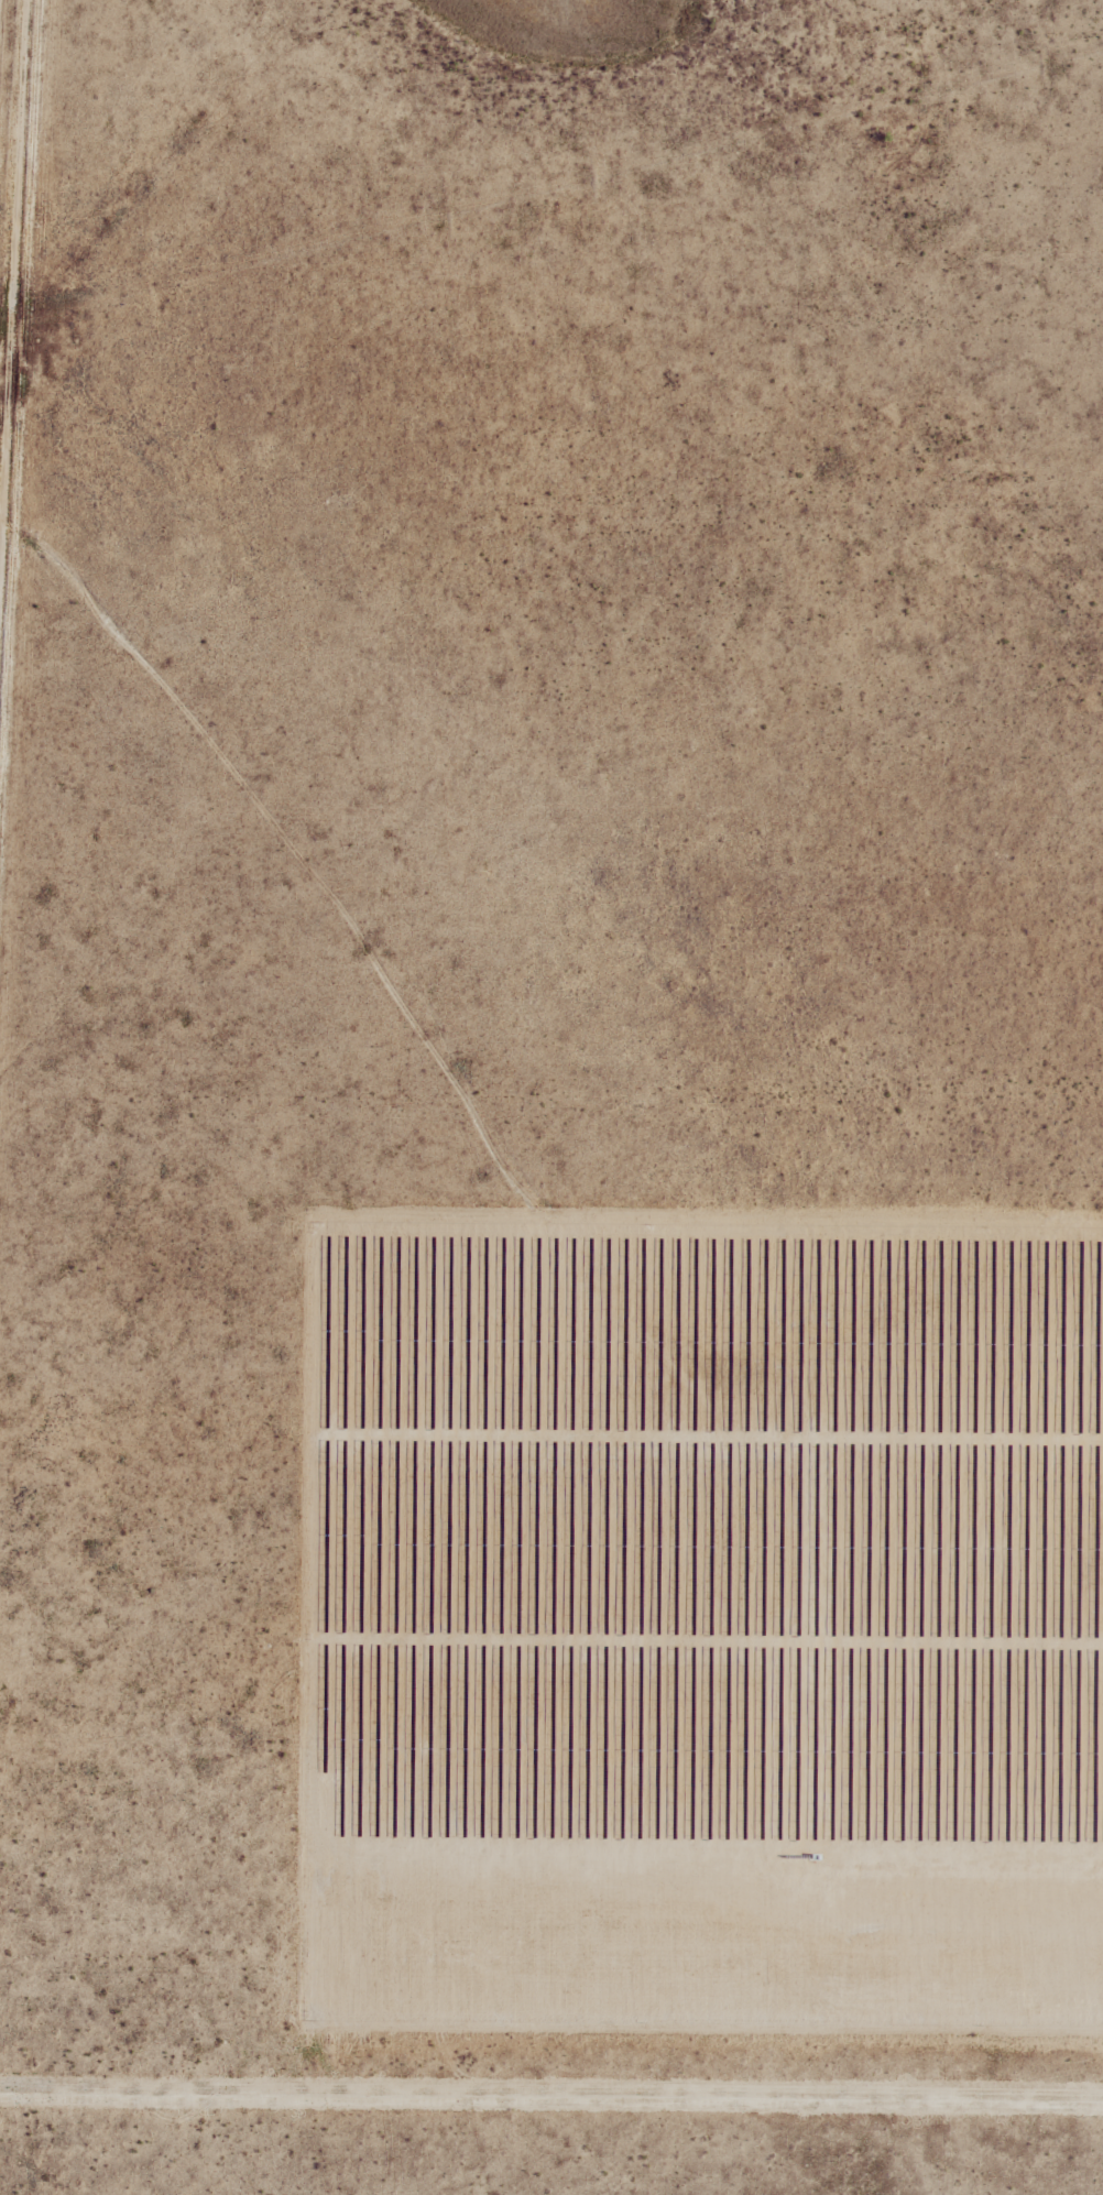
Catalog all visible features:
solar farm: (697, 1629)
road: (707, 1931)

